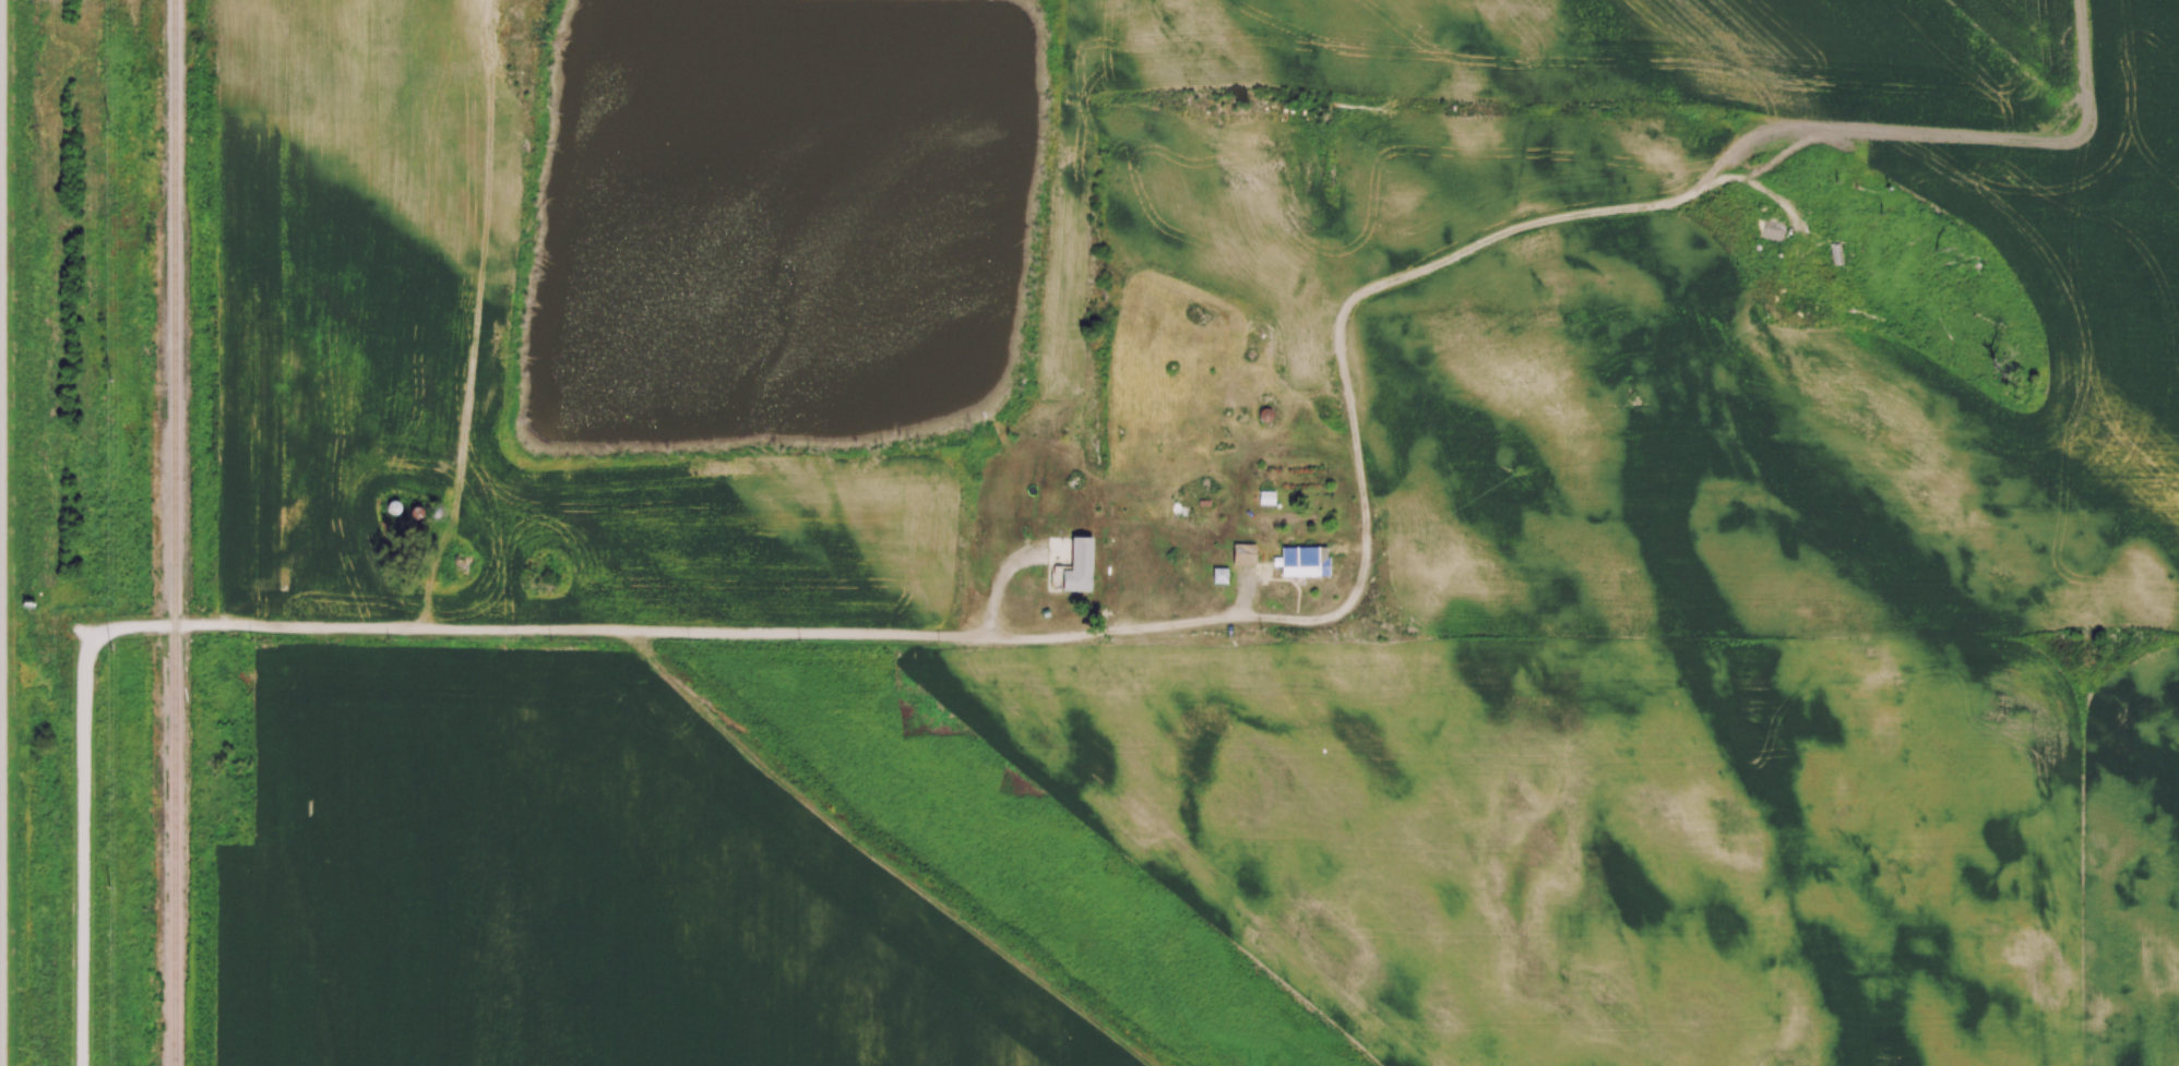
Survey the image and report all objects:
road: (1960, 135)
railway: (176, 532)
road: (904, 636)

